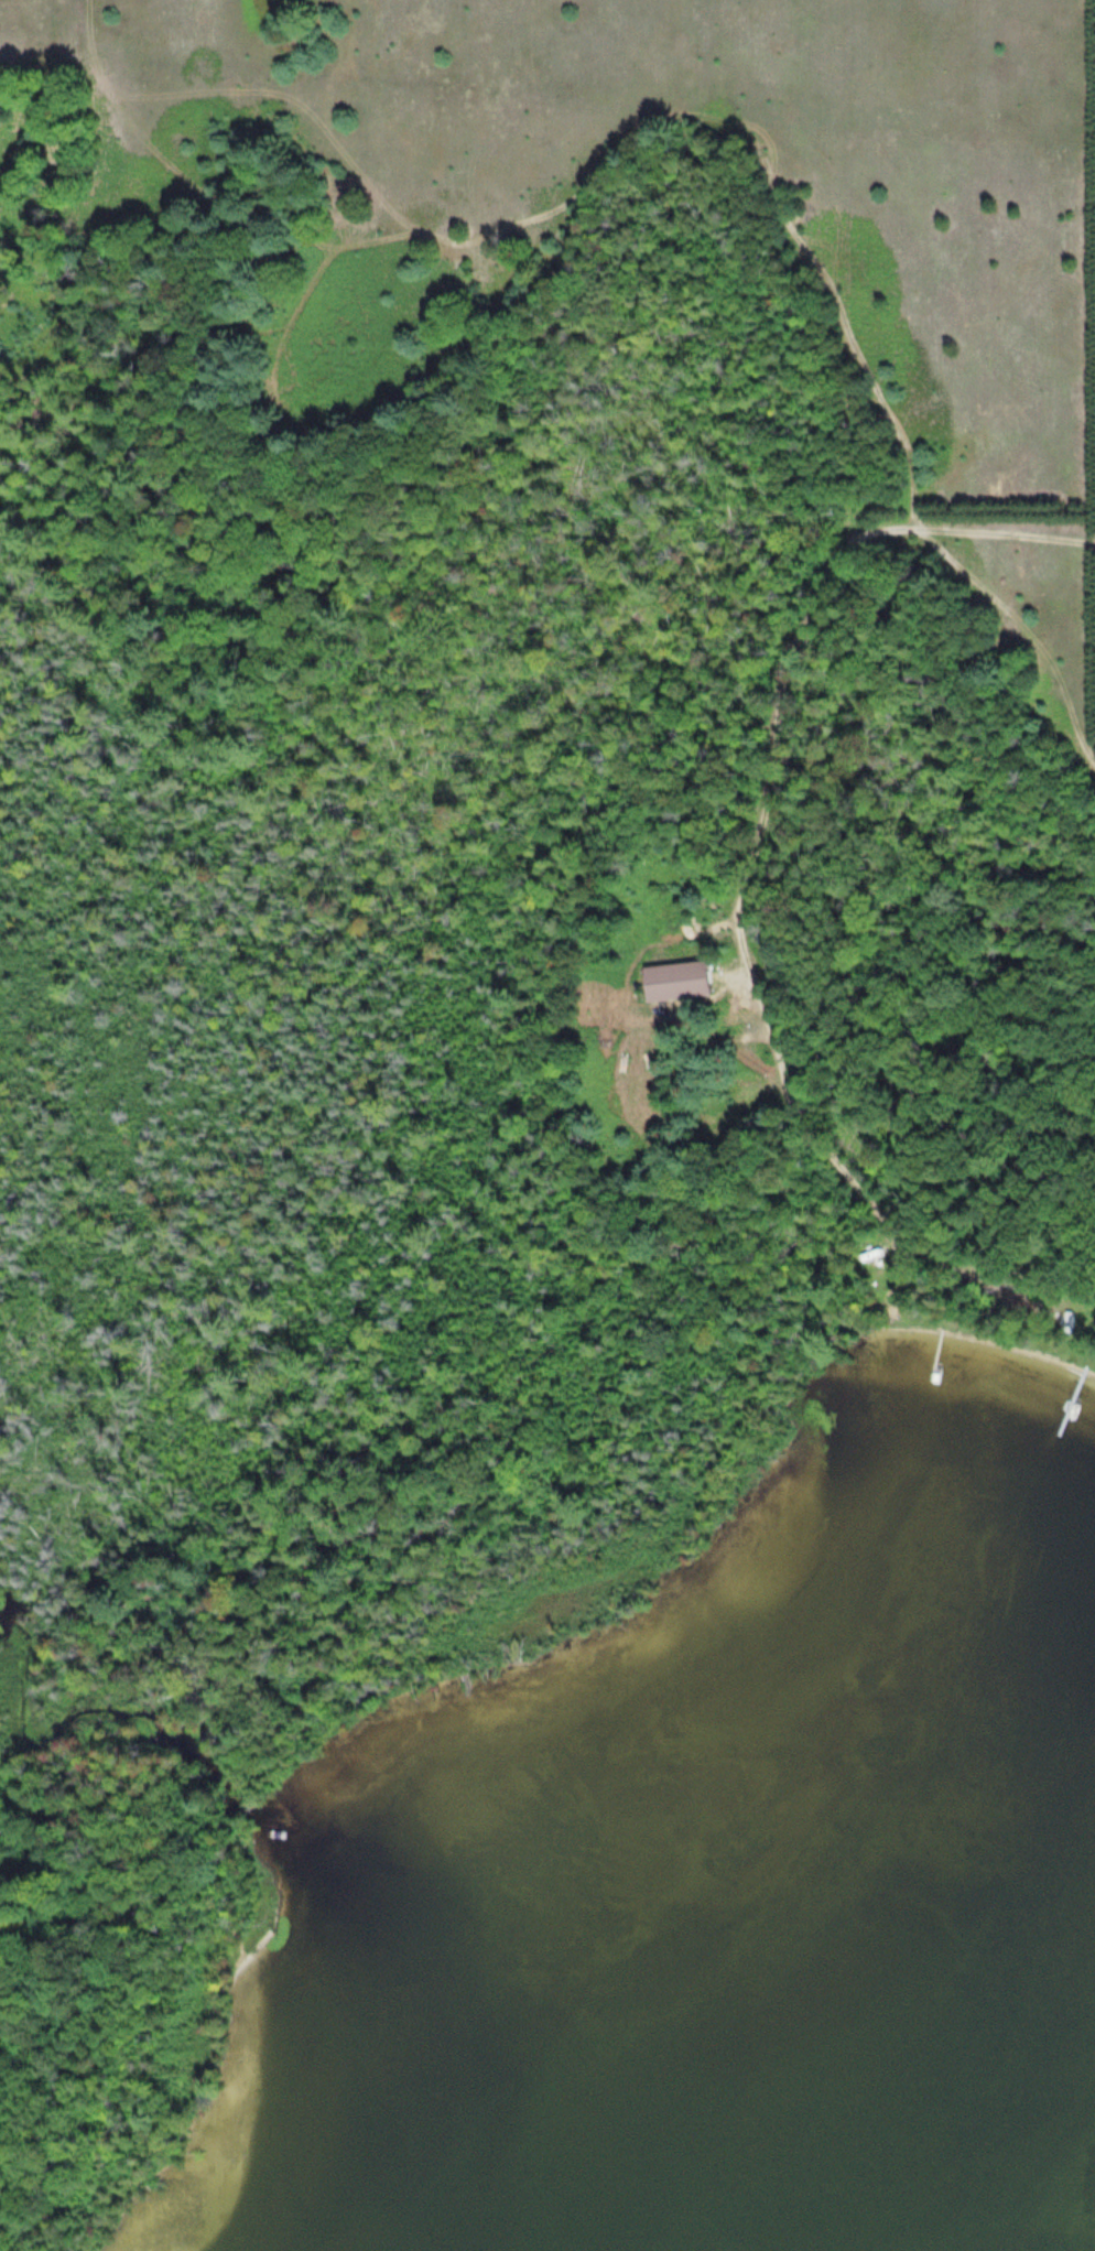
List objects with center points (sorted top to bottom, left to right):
building: (676, 980)
building: (1024, 1301)

